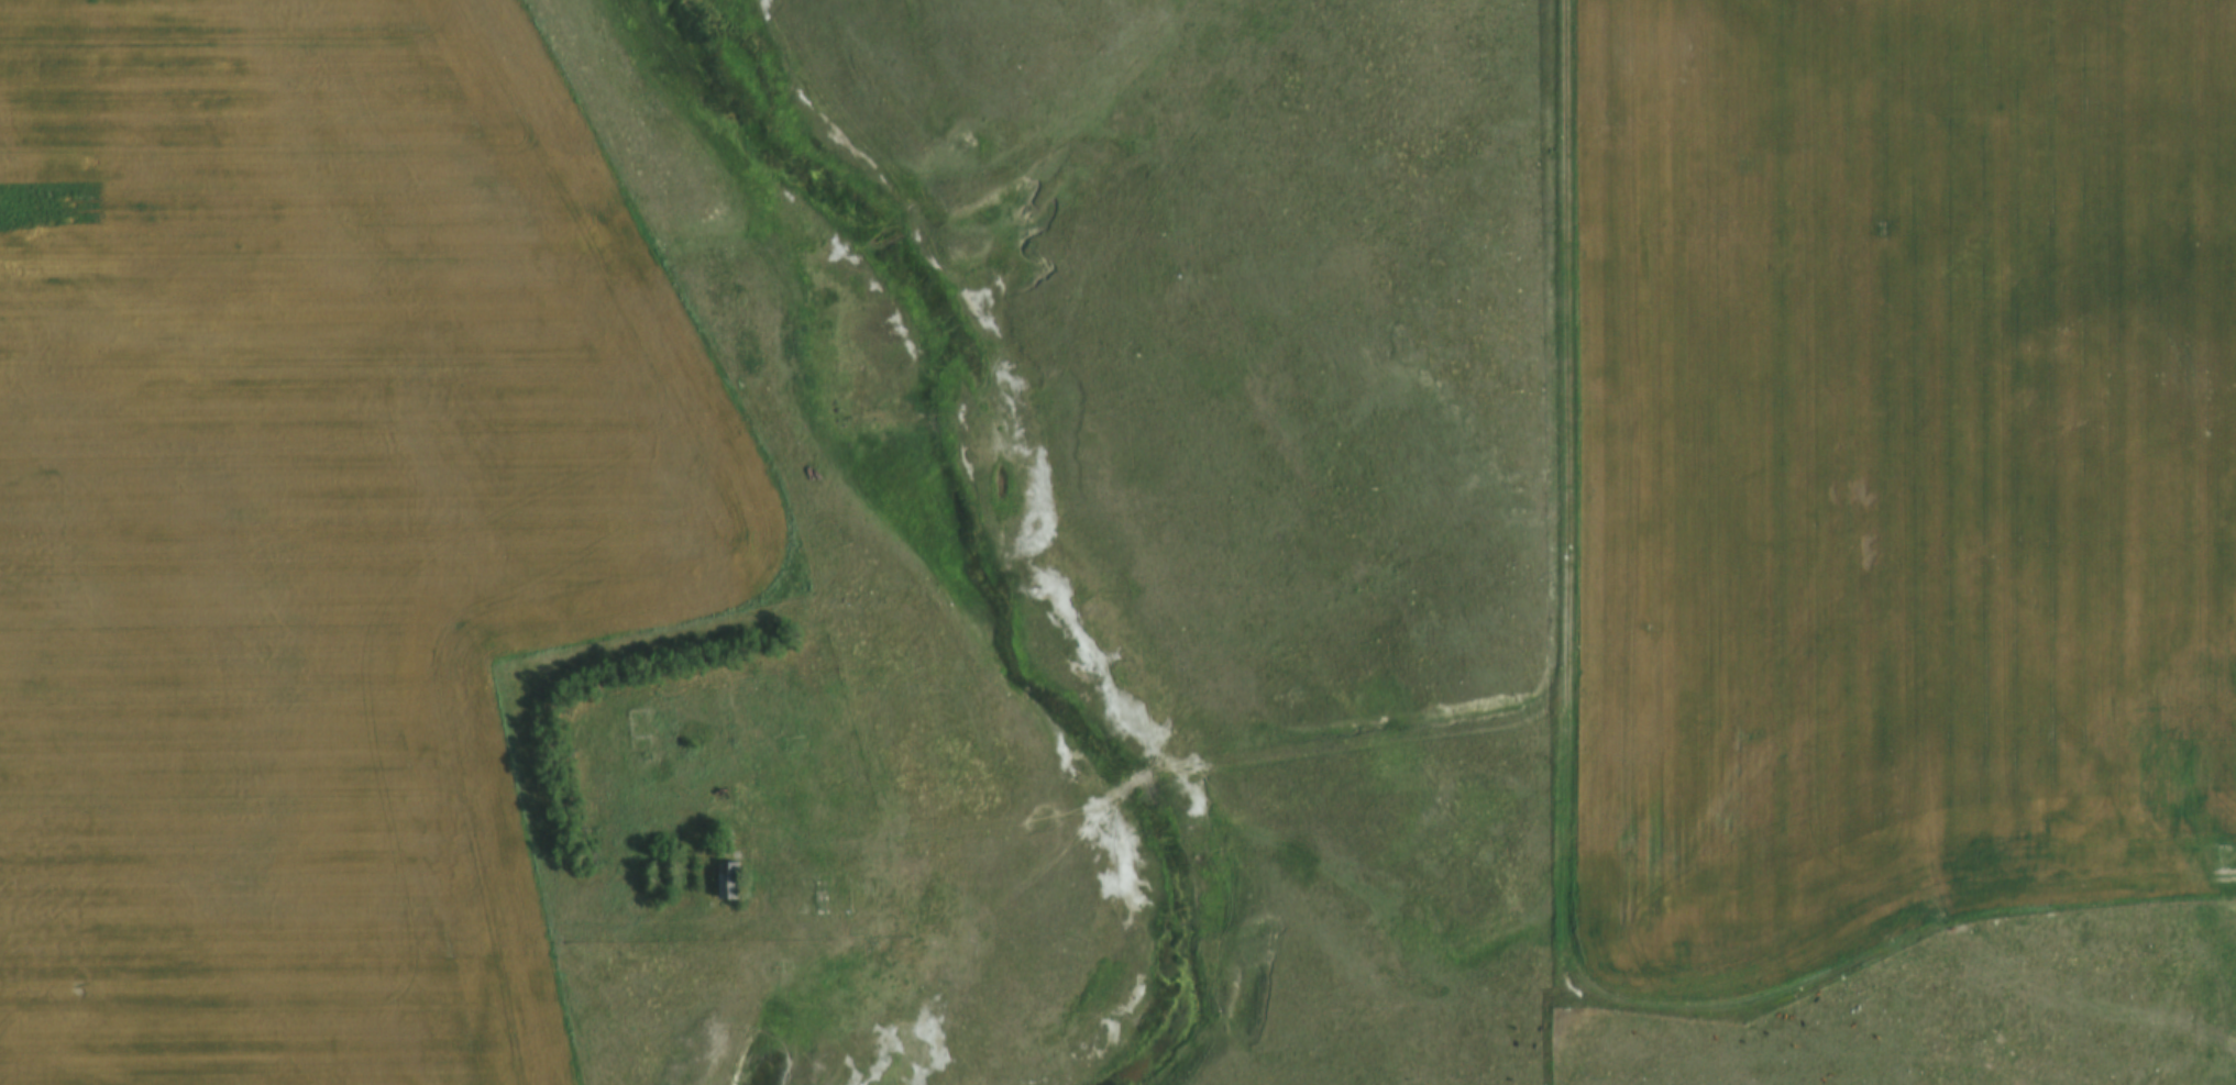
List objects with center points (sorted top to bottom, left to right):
road: (1569, 343)
road: (1332, 733)
road: (1562, 845)
building: (733, 881)
road: (566, 950)

